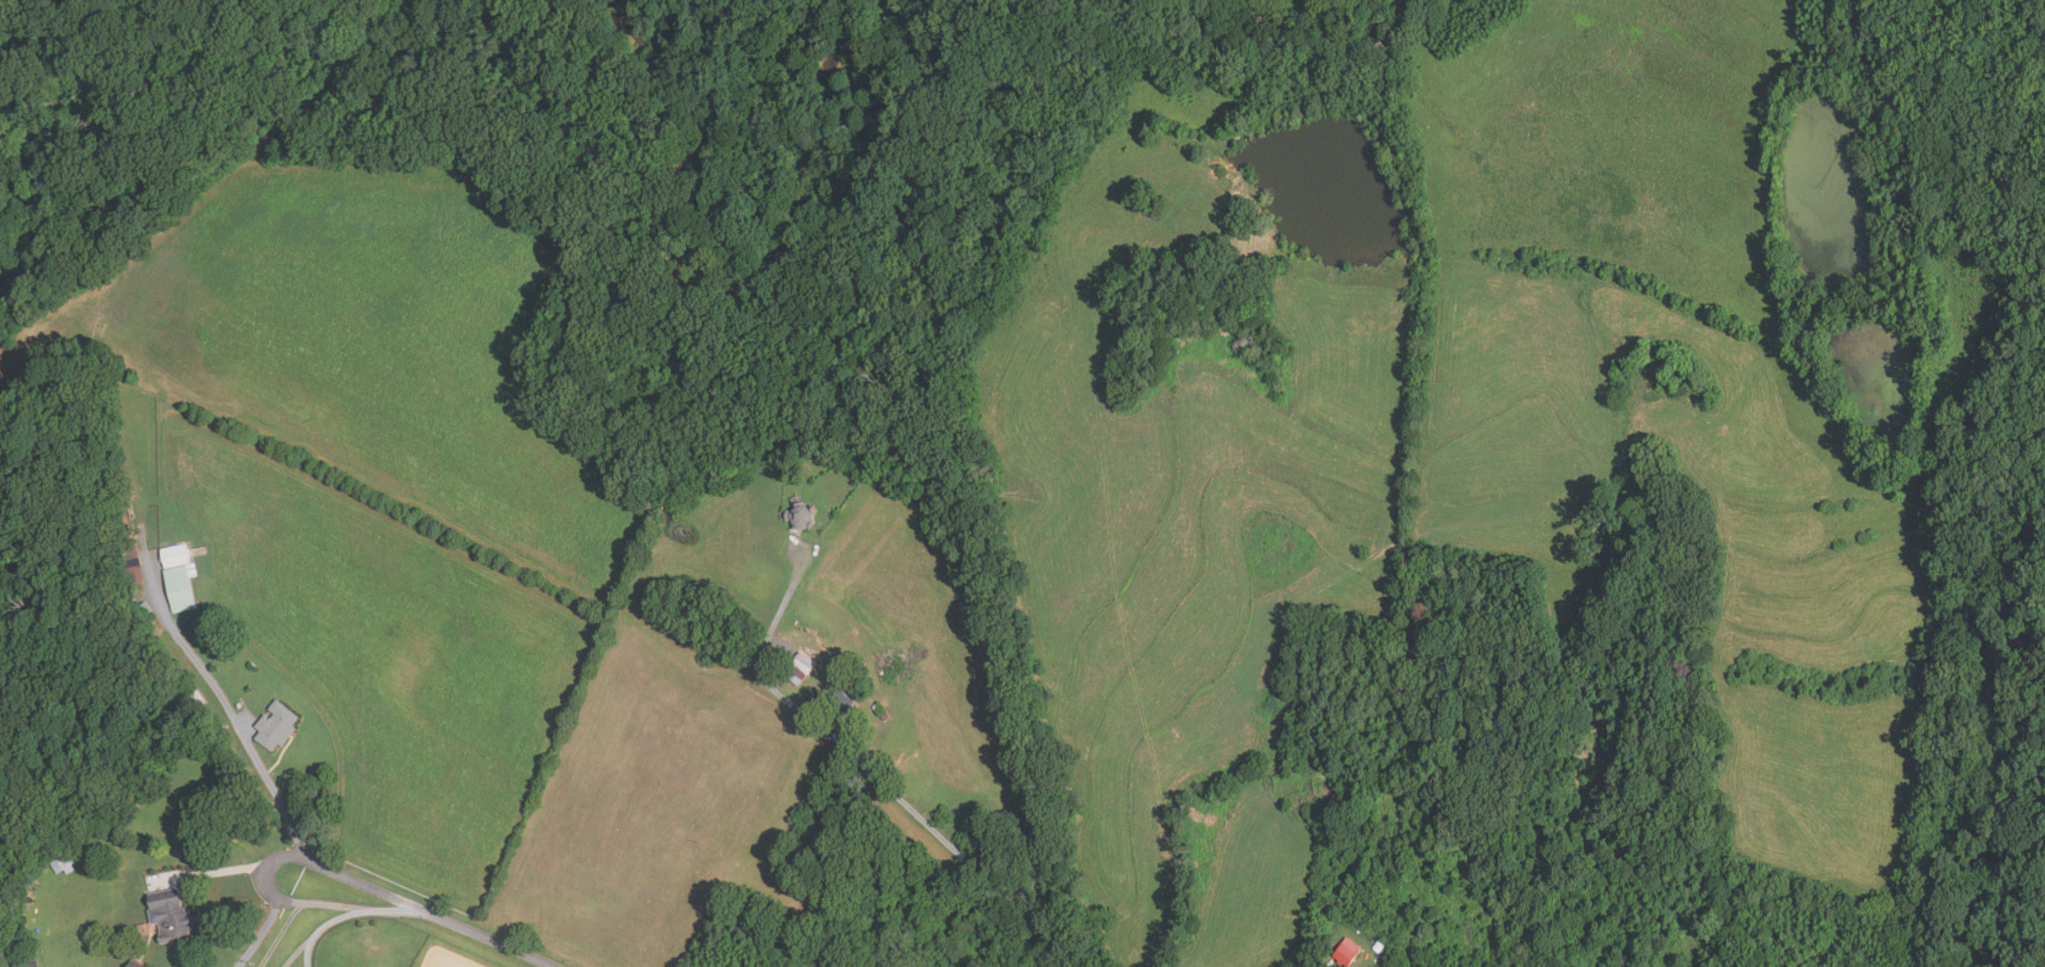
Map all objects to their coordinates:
river: (1221, 34)
river: (1324, 38)
river: (1262, 55)
river: (34, 166)
river: (1330, 175)
river: (1810, 185)
river: (720, 262)
river: (1868, 377)
building: (801, 517)
building: (175, 555)
building: (133, 565)
building: (181, 587)
building: (145, 608)
building: (799, 668)
building: (197, 699)
building: (842, 703)
building: (239, 705)
building: (881, 712)
building: (276, 726)
river: (1982, 727)
river: (1583, 729)
road: (257, 766)
road: (876, 781)
building: (64, 862)
road: (278, 900)
road: (290, 902)
road: (299, 907)
building: (170, 915)
road: (349, 915)
building: (927, 931)
road: (488, 938)
building: (1379, 947)
building: (1347, 951)
road: (299, 952)
building: (984, 954)
road: (1314, 960)
building: (135, 963)
building: (26, 964)

